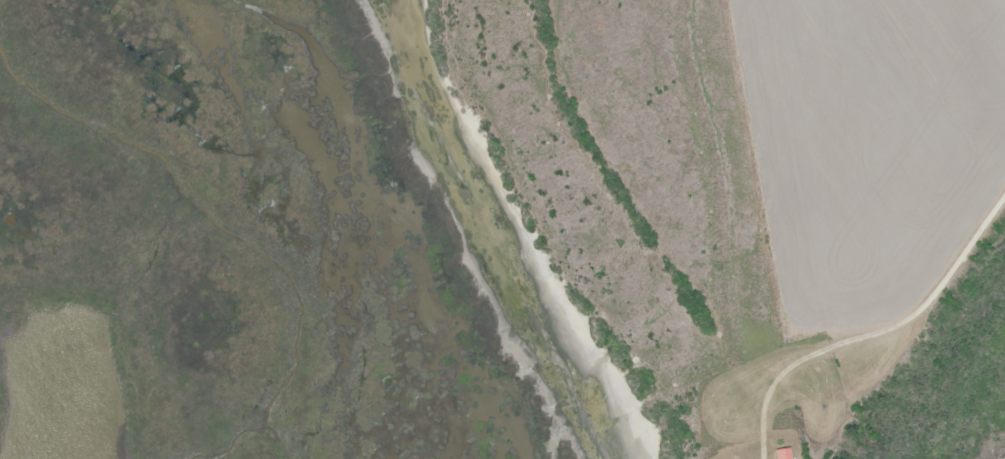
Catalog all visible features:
road: (869, 328)

